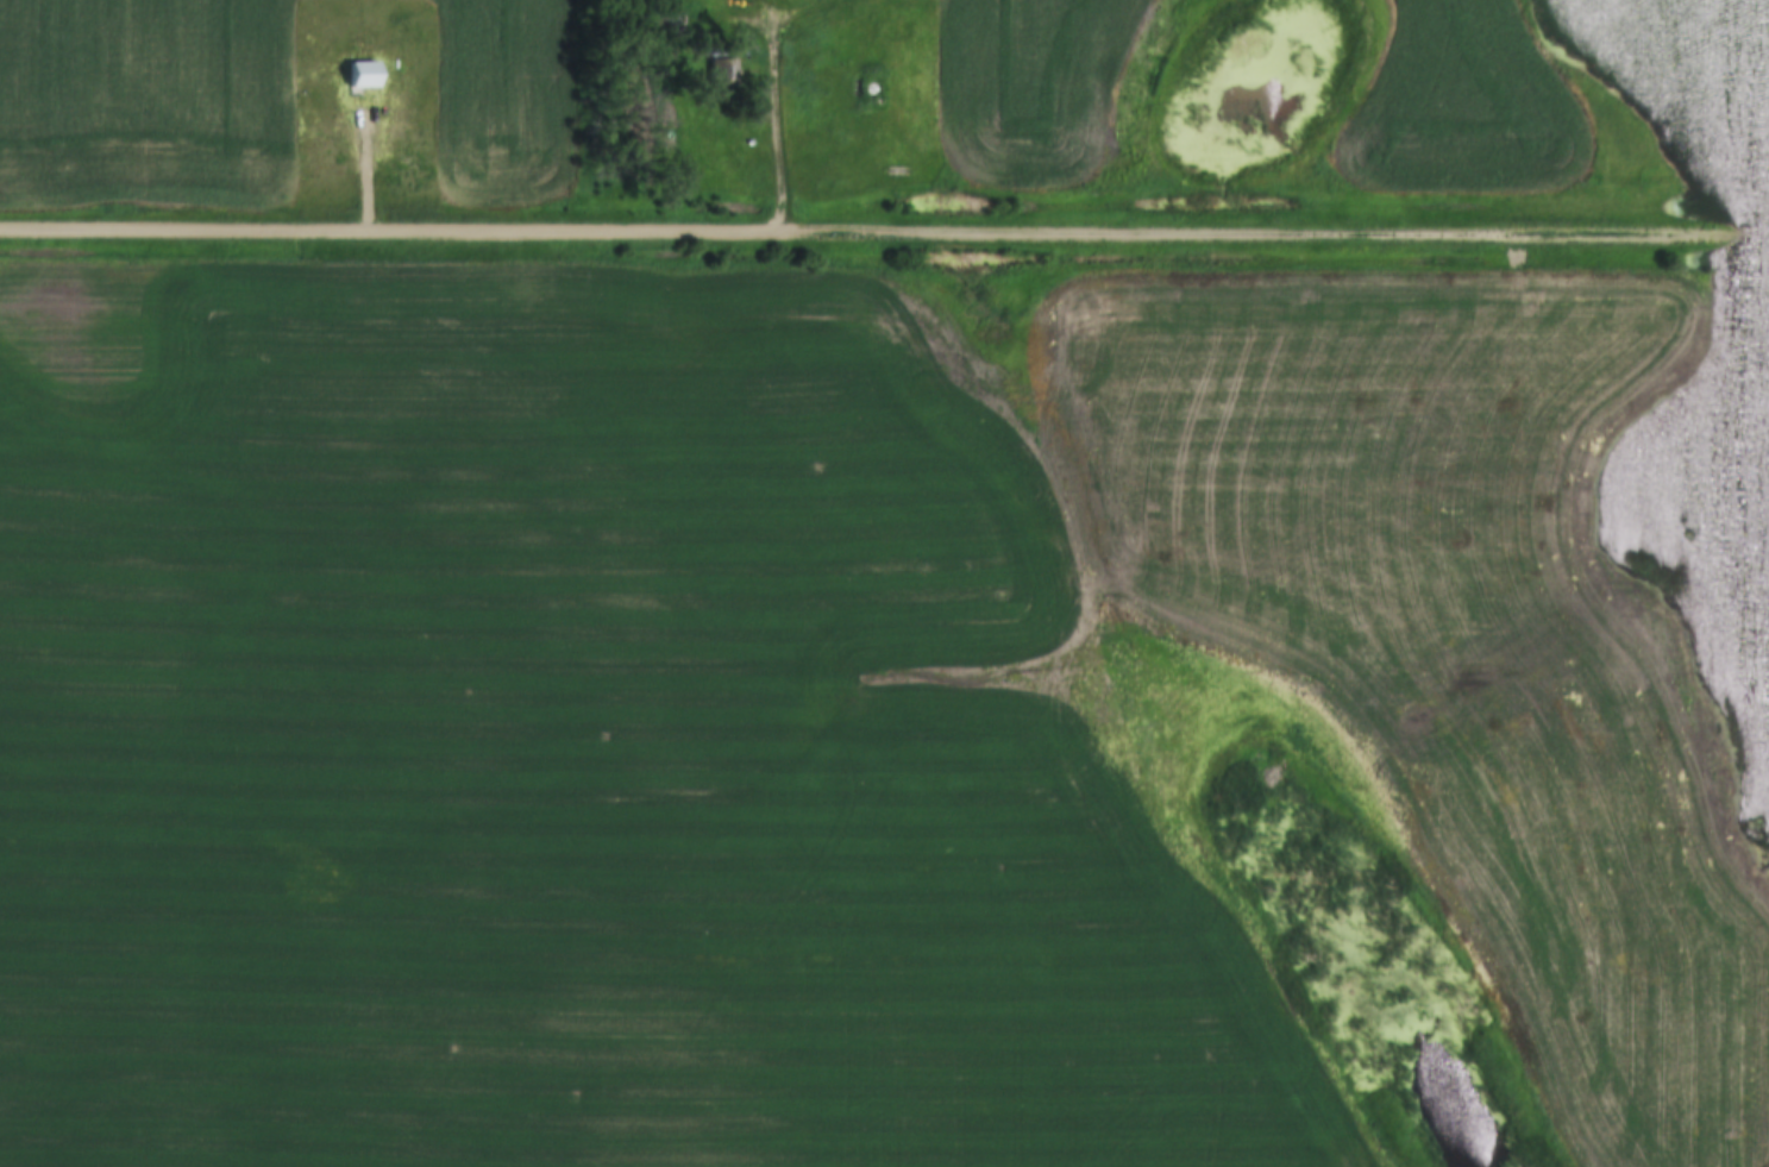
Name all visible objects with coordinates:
building: (723, 74)
building: (363, 75)
road: (776, 115)
road: (884, 234)

